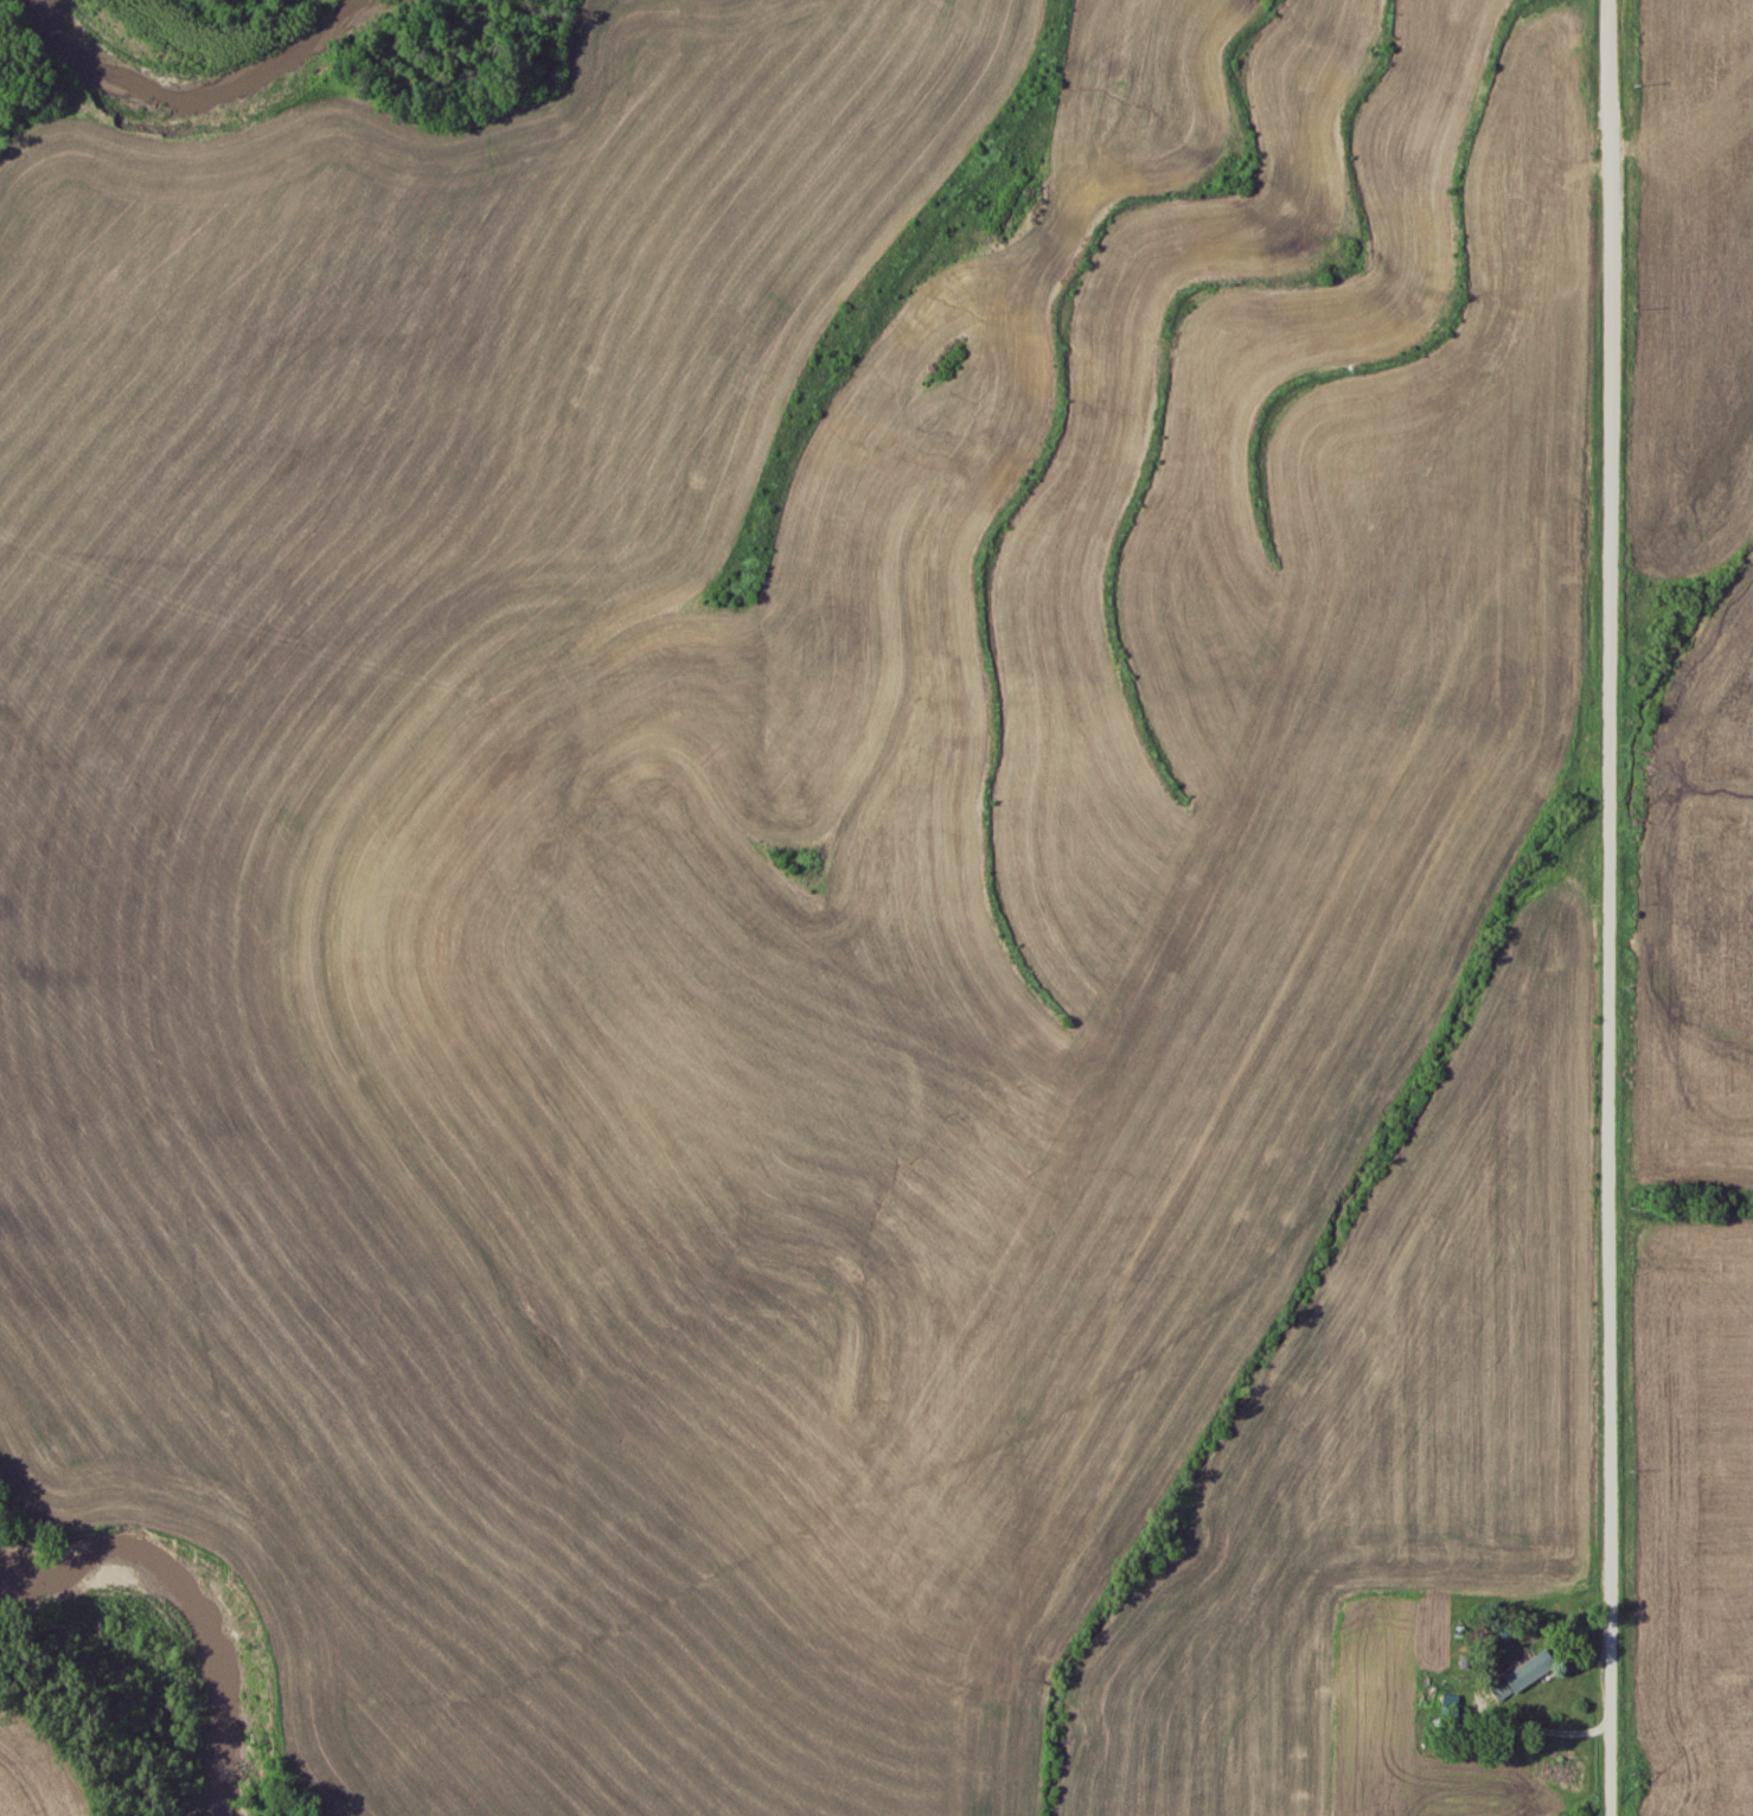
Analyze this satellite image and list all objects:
road: (1591, 908)
building: (1530, 1669)
building: (1497, 1690)

